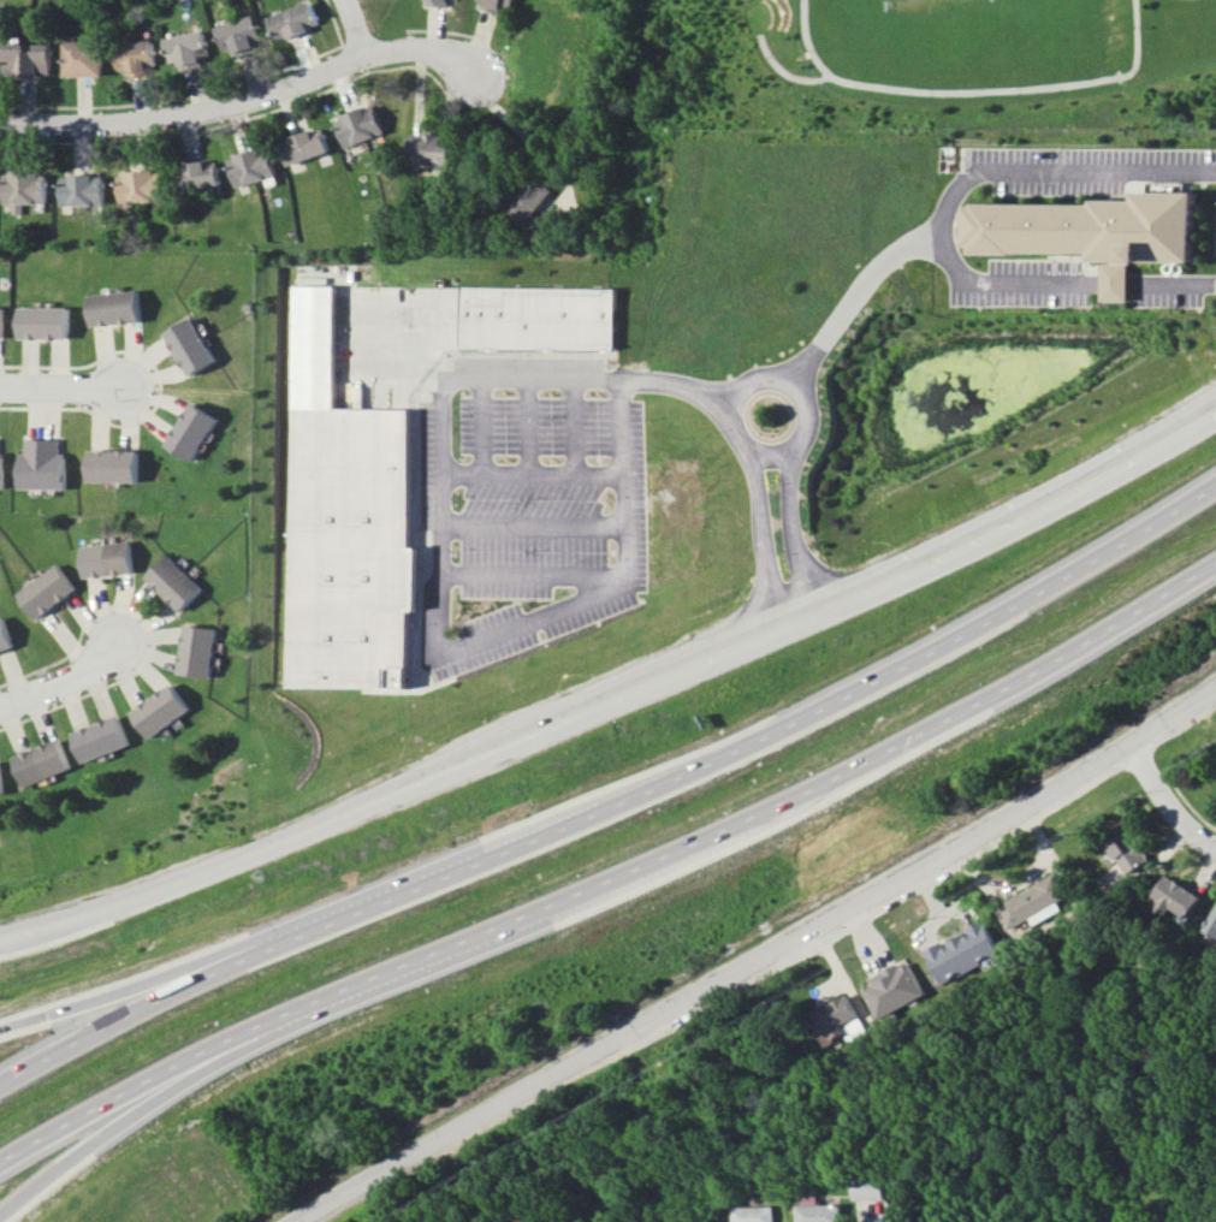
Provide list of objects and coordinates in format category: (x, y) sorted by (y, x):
building: (438, 2)
building: (500, 5)
building: (293, 20)
road: (352, 23)
building: (242, 36)
building: (188, 49)
building: (135, 57)
building: (82, 58)
building: (26, 59)
road: (255, 90)
building: (358, 125)
road: (528, 137)
building: (303, 146)
building: (431, 149)
building: (250, 166)
road: (1052, 171)
building: (195, 176)
building: (136, 185)
building: (23, 189)
building: (79, 189)
building: (529, 196)
building: (1095, 231)
road: (913, 249)
building: (115, 308)
building: (547, 319)
building: (2, 322)
building: (46, 322)
building: (191, 345)
road: (72, 386)
building: (194, 431)
road: (773, 455)
building: (45, 464)
building: (115, 465)
building: (2, 470)
road: (757, 477)
road: (793, 487)
parking lot: (529, 518)
building: (352, 547)
building: (107, 559)
road: (429, 569)
building: (173, 582)
building: (46, 591)
building: (4, 636)
building: (198, 651)
road: (65, 674)
road: (617, 694)
building: (161, 710)
building: (101, 738)
building: (42, 761)
building: (1, 782)
road: (612, 794)
road: (1168, 799)
building: (1128, 852)
road: (613, 876)
building: (1176, 896)
building: (1031, 901)
building: (1212, 924)
building: (966, 951)
road: (761, 959)
building: (895, 989)
road: (109, 992)
road: (107, 1125)
building: (872, 1187)
building: (821, 1212)
building: (753, 1214)

